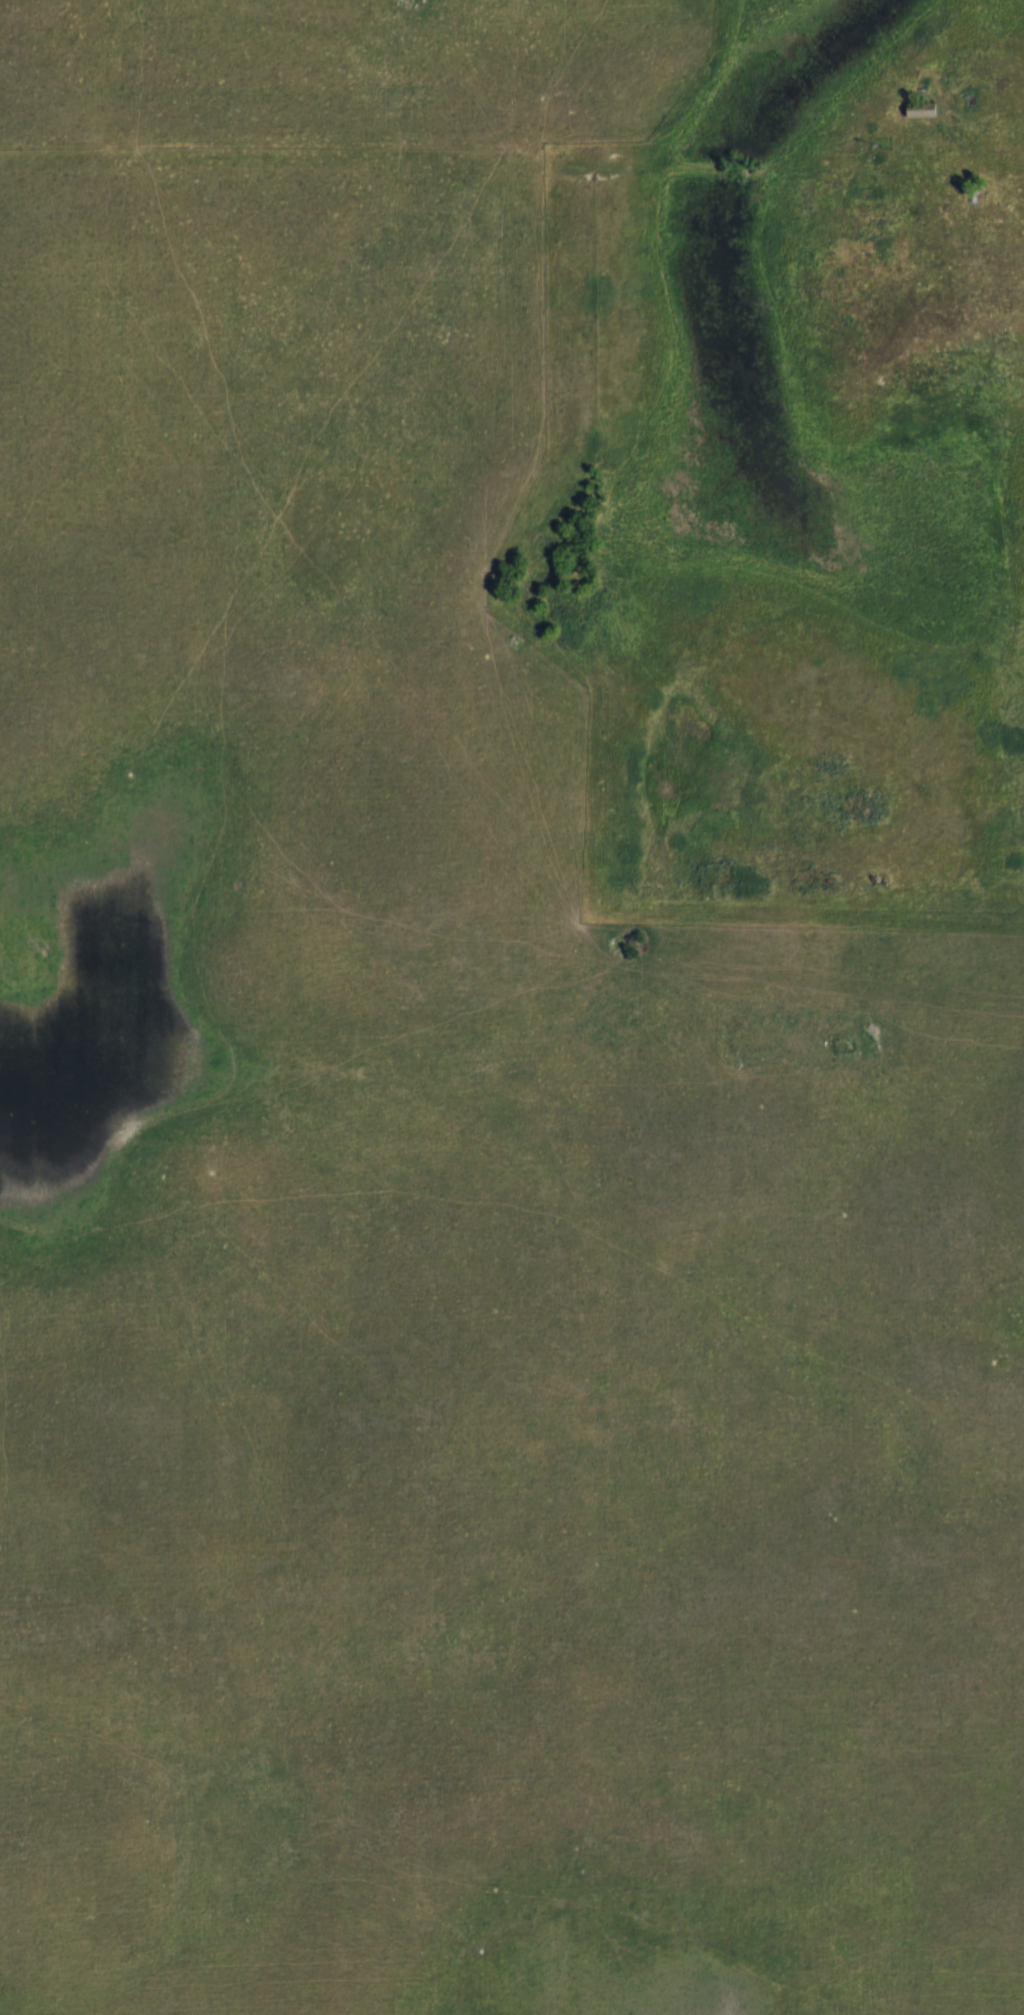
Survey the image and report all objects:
building: (919, 109)

